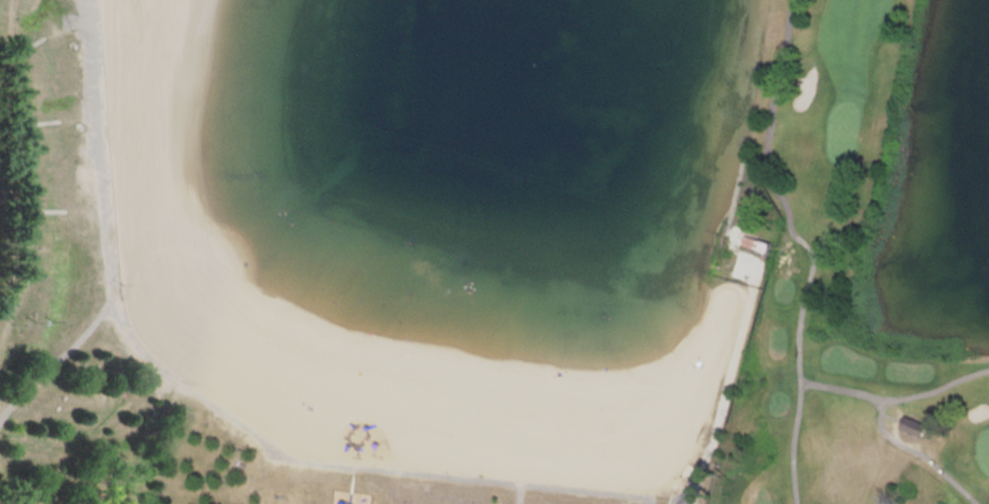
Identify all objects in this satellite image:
road: (35, 210)
road: (805, 245)
park: (868, 259)
road: (736, 345)
road: (57, 362)
road: (843, 388)
road: (219, 409)
road: (891, 416)
road: (880, 420)
building: (916, 425)
road: (895, 428)
road: (519, 493)
road: (671, 498)
road: (692, 498)
road: (680, 500)

